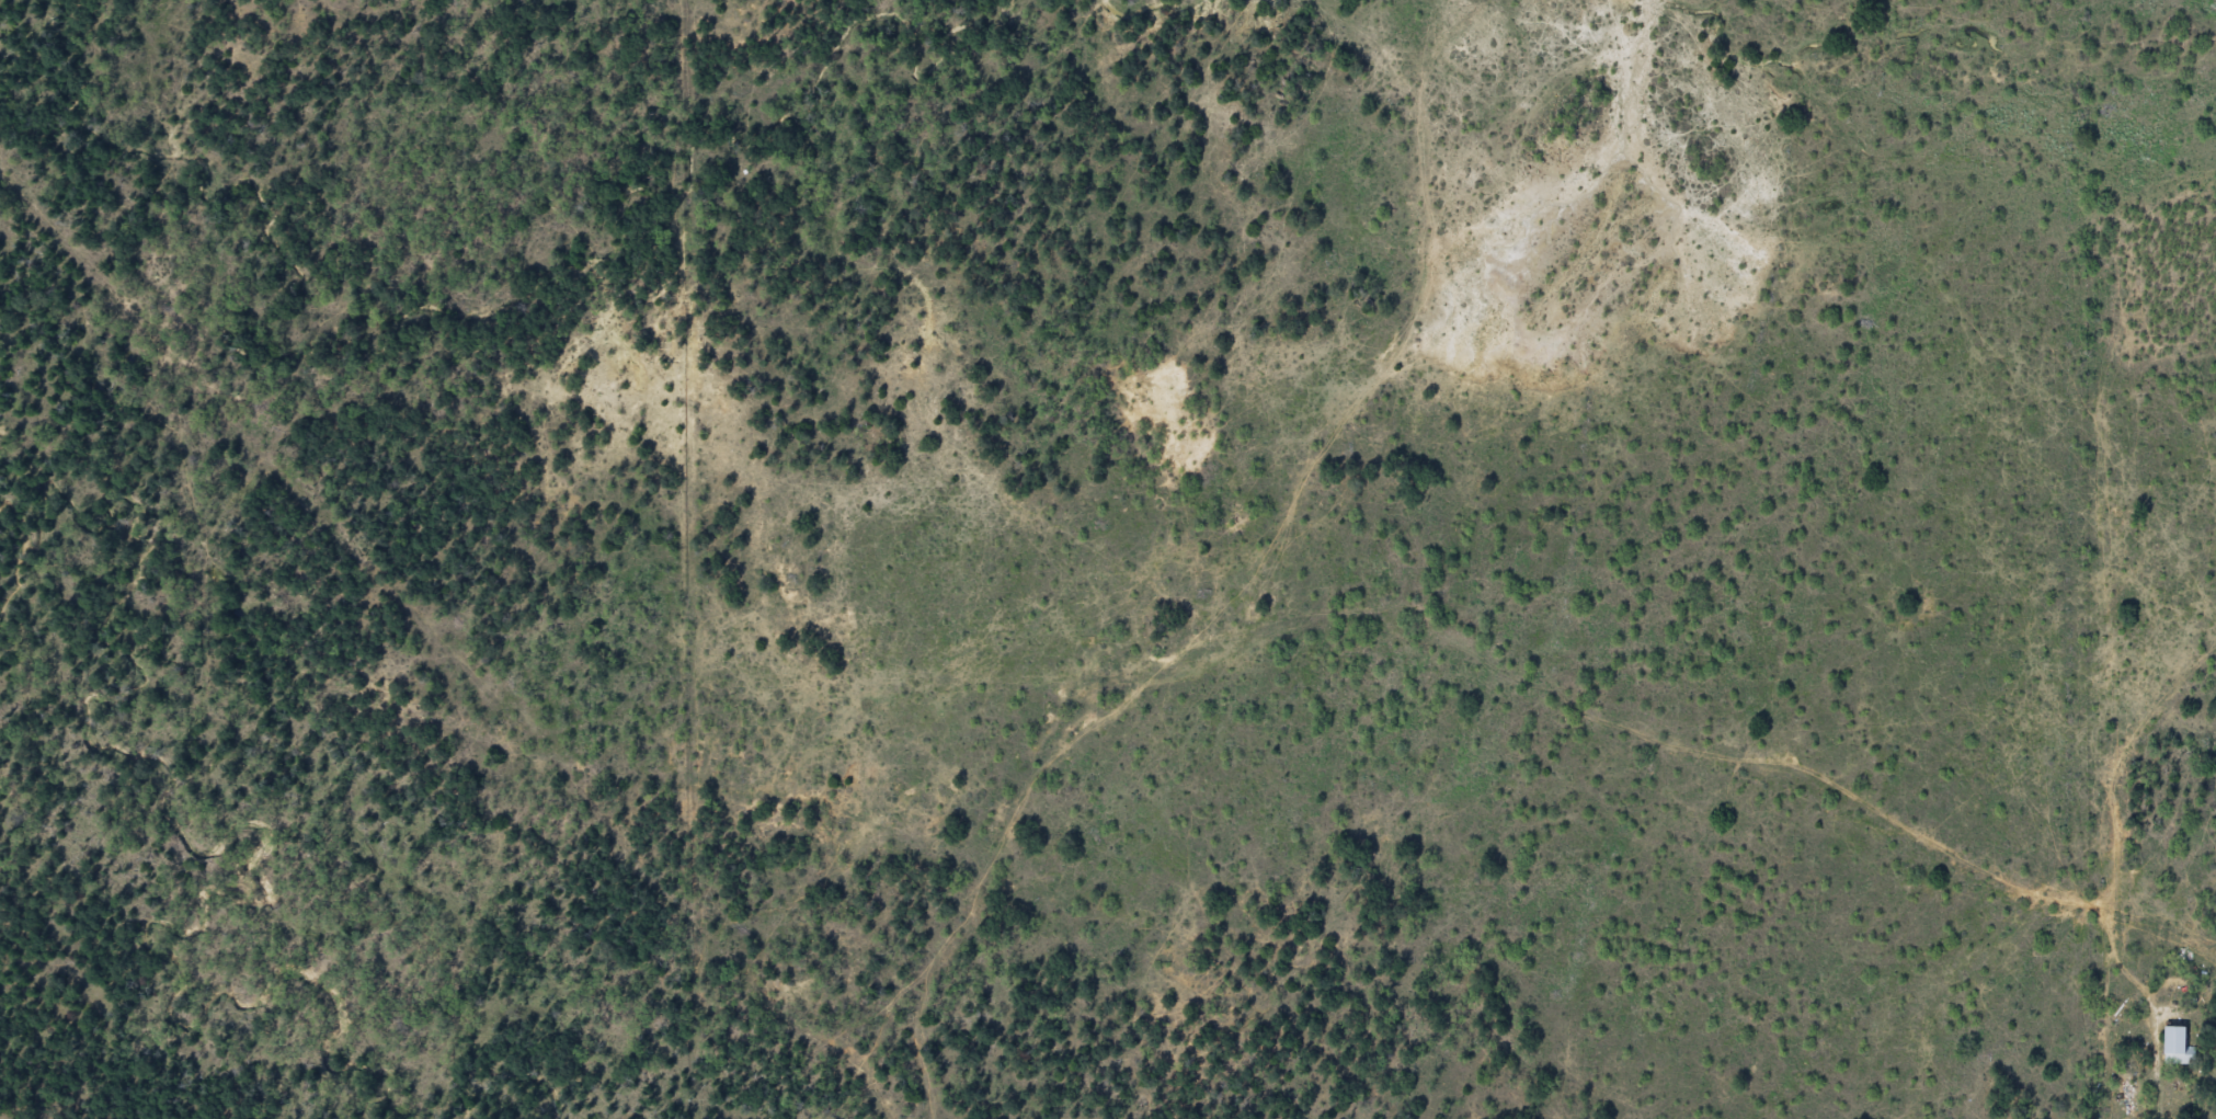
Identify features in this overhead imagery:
road: (1431, 329)
road: (1227, 693)
road: (2168, 824)
building: (2178, 1048)

